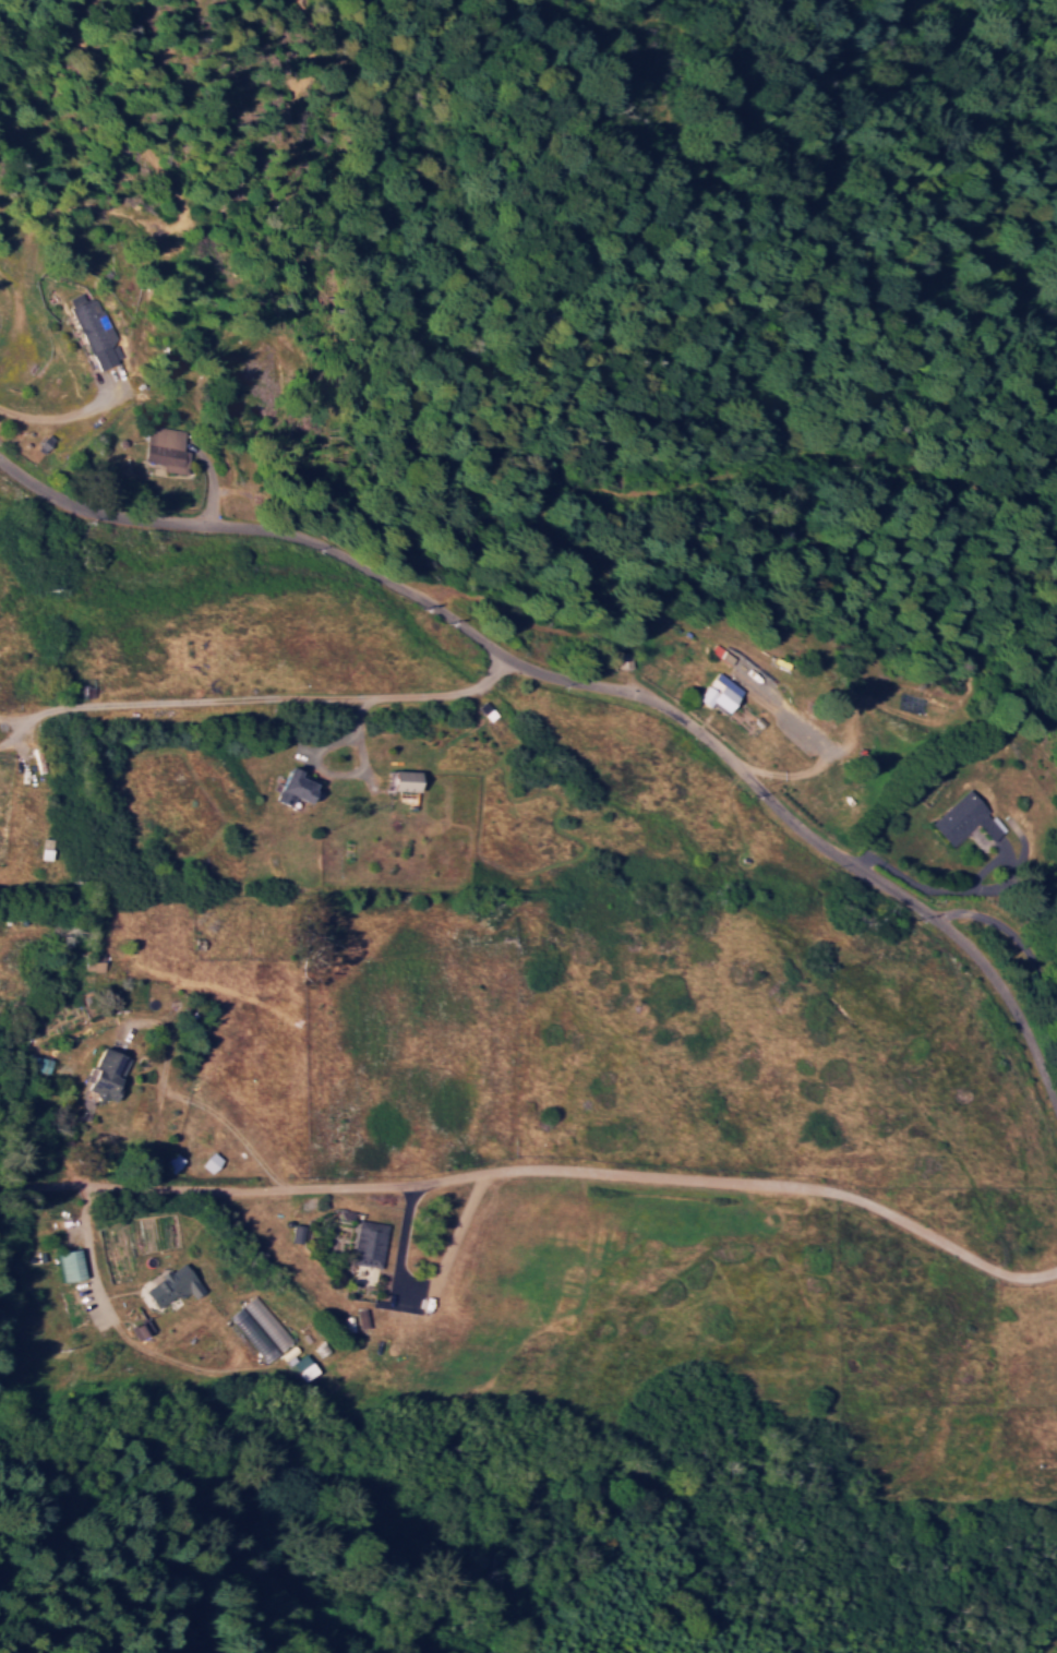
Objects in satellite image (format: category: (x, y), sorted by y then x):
building: (96, 330)
building: (169, 447)
road: (585, 690)
building: (716, 691)
building: (411, 780)
building: (301, 787)
building: (964, 818)
building: (45, 1064)
building: (110, 1074)
building: (214, 1160)
building: (176, 1161)
road: (537, 1172)
building: (372, 1243)
building: (75, 1263)
building: (177, 1284)
building: (268, 1321)
building: (255, 1333)
building: (305, 1366)

